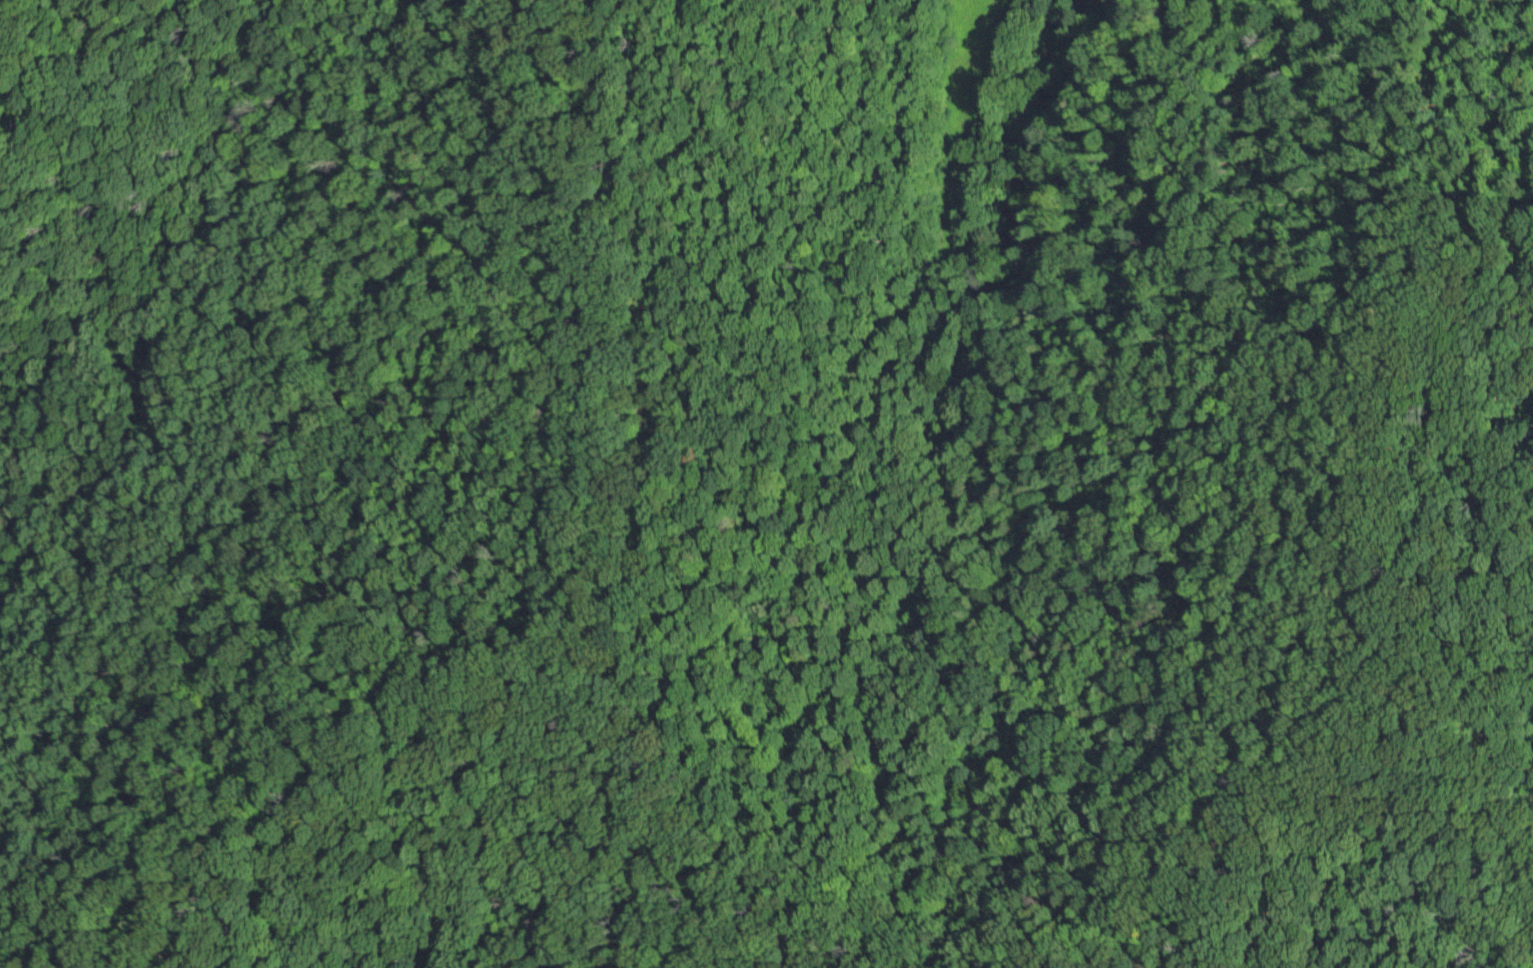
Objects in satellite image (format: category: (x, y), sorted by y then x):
road: (934, 6)

